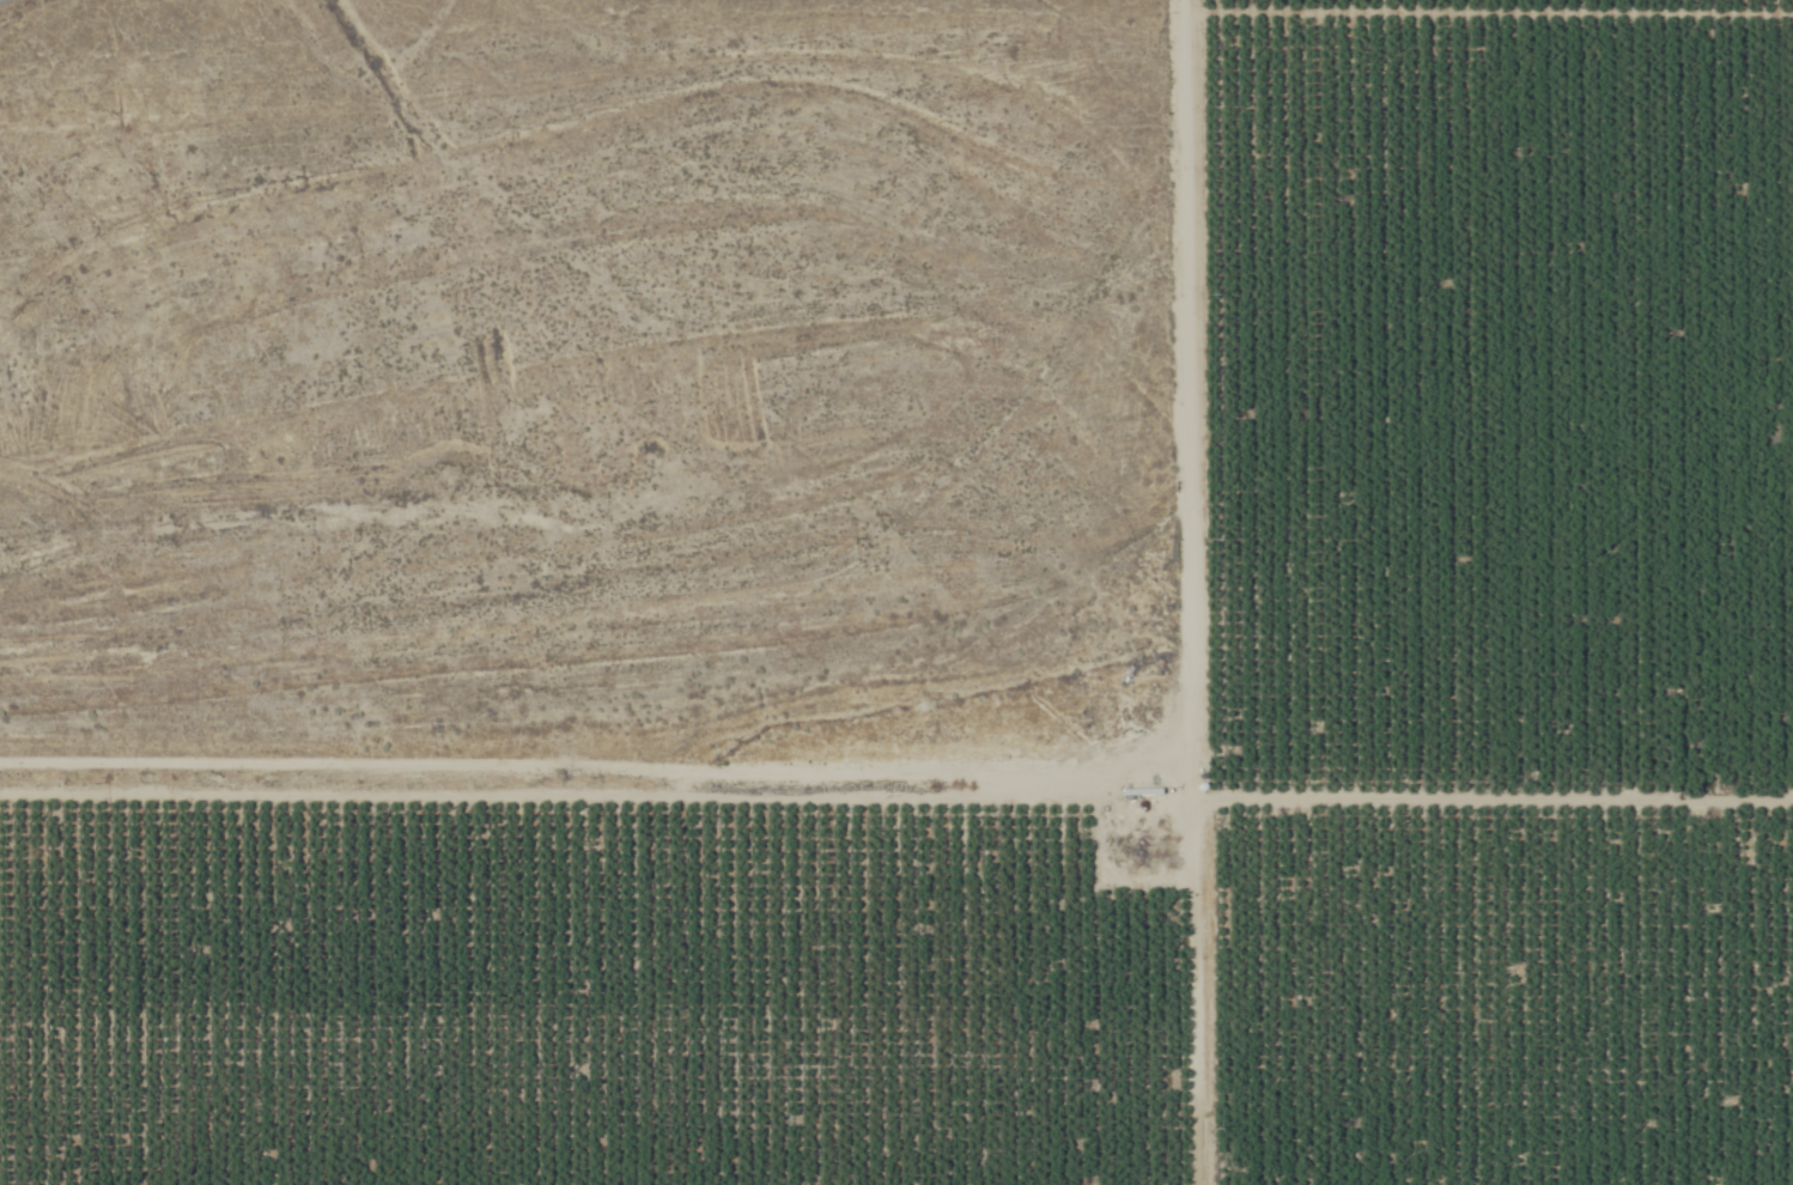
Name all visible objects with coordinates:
road: (1187, 591)
road: (595, 770)

